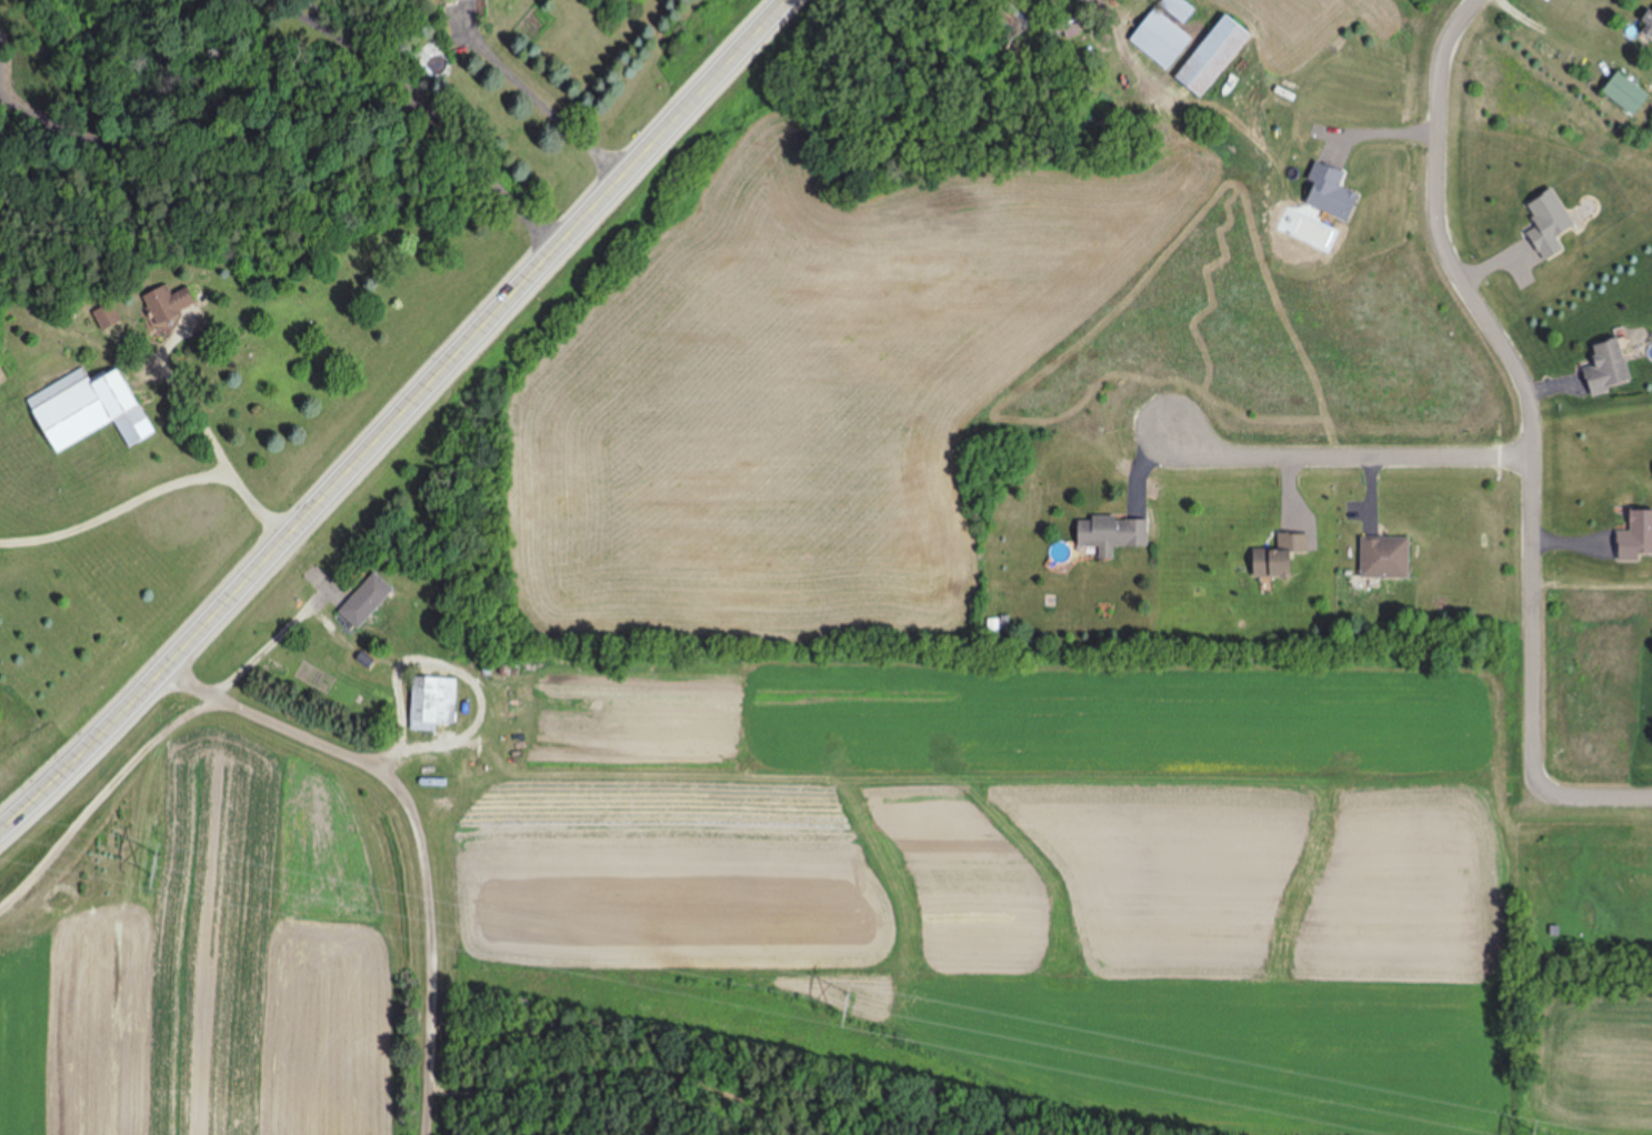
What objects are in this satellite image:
building: (1181, 9)
building: (1643, 23)
building: (1164, 39)
road: (296, 52)
building: (1220, 56)
building: (1618, 94)
road: (544, 96)
building: (176, 300)
building: (109, 318)
road: (140, 349)
building: (1609, 366)
road: (1519, 373)
building: (92, 410)
road: (401, 422)
road: (207, 431)
road: (1346, 458)
road: (119, 510)
building: (1115, 538)
building: (1283, 555)
building: (1389, 559)
road: (1591, 585)
building: (370, 601)
building: (435, 703)
road: (1589, 794)
road: (420, 828)
power tower: (151, 867)
power tower: (843, 1004)

